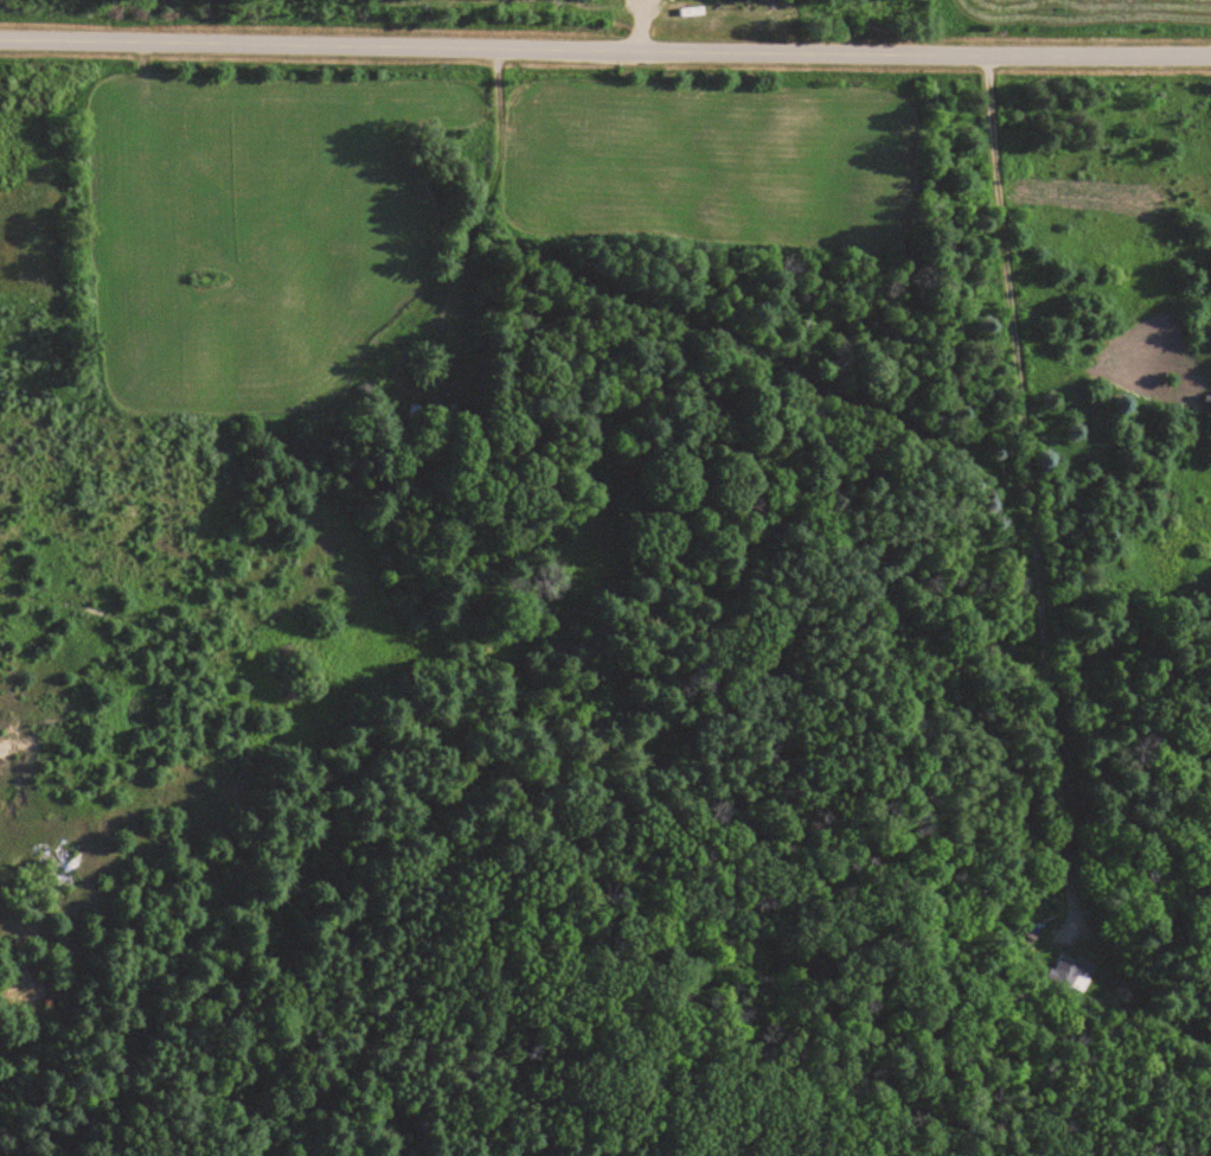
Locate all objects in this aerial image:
road: (604, 50)
road: (658, 148)
road: (97, 153)

